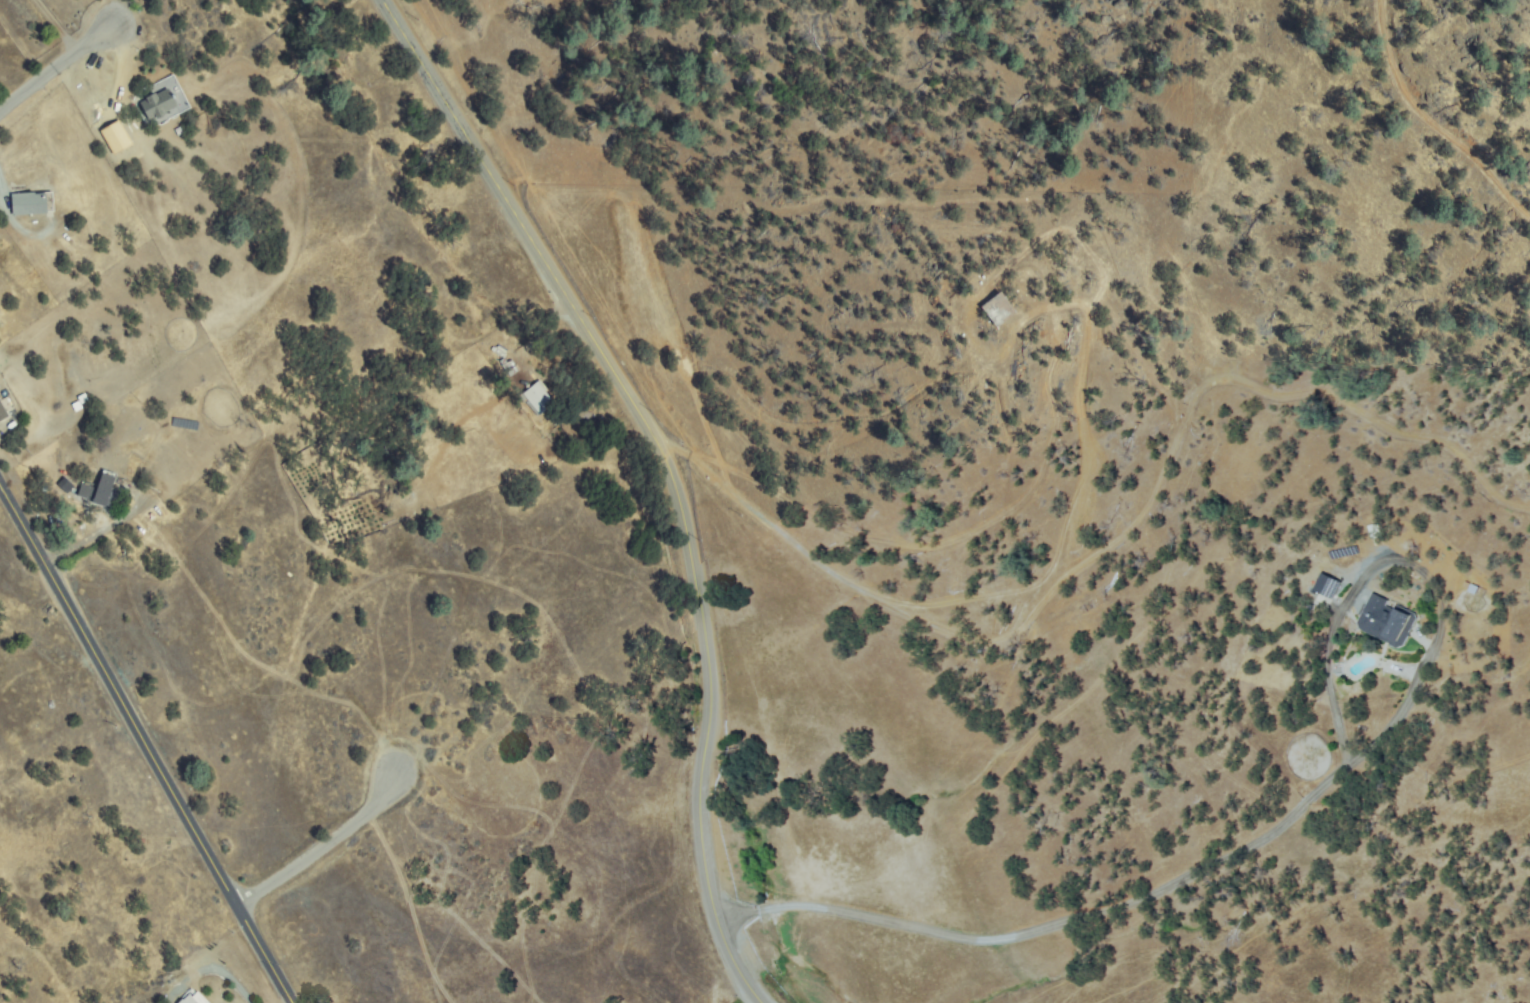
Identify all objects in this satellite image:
road: (58, 66)
building: (159, 104)
building: (123, 148)
building: (33, 203)
building: (993, 310)
building: (1075, 328)
building: (509, 365)
building: (548, 389)
building: (80, 398)
building: (538, 398)
building: (2, 413)
building: (583, 414)
building: (548, 428)
road: (664, 470)
building: (101, 492)
building: (1375, 531)
building: (1319, 581)
building: (1472, 588)
building: (1386, 621)
road: (1014, 697)
road: (143, 744)
road: (326, 847)
building: (189, 1000)

